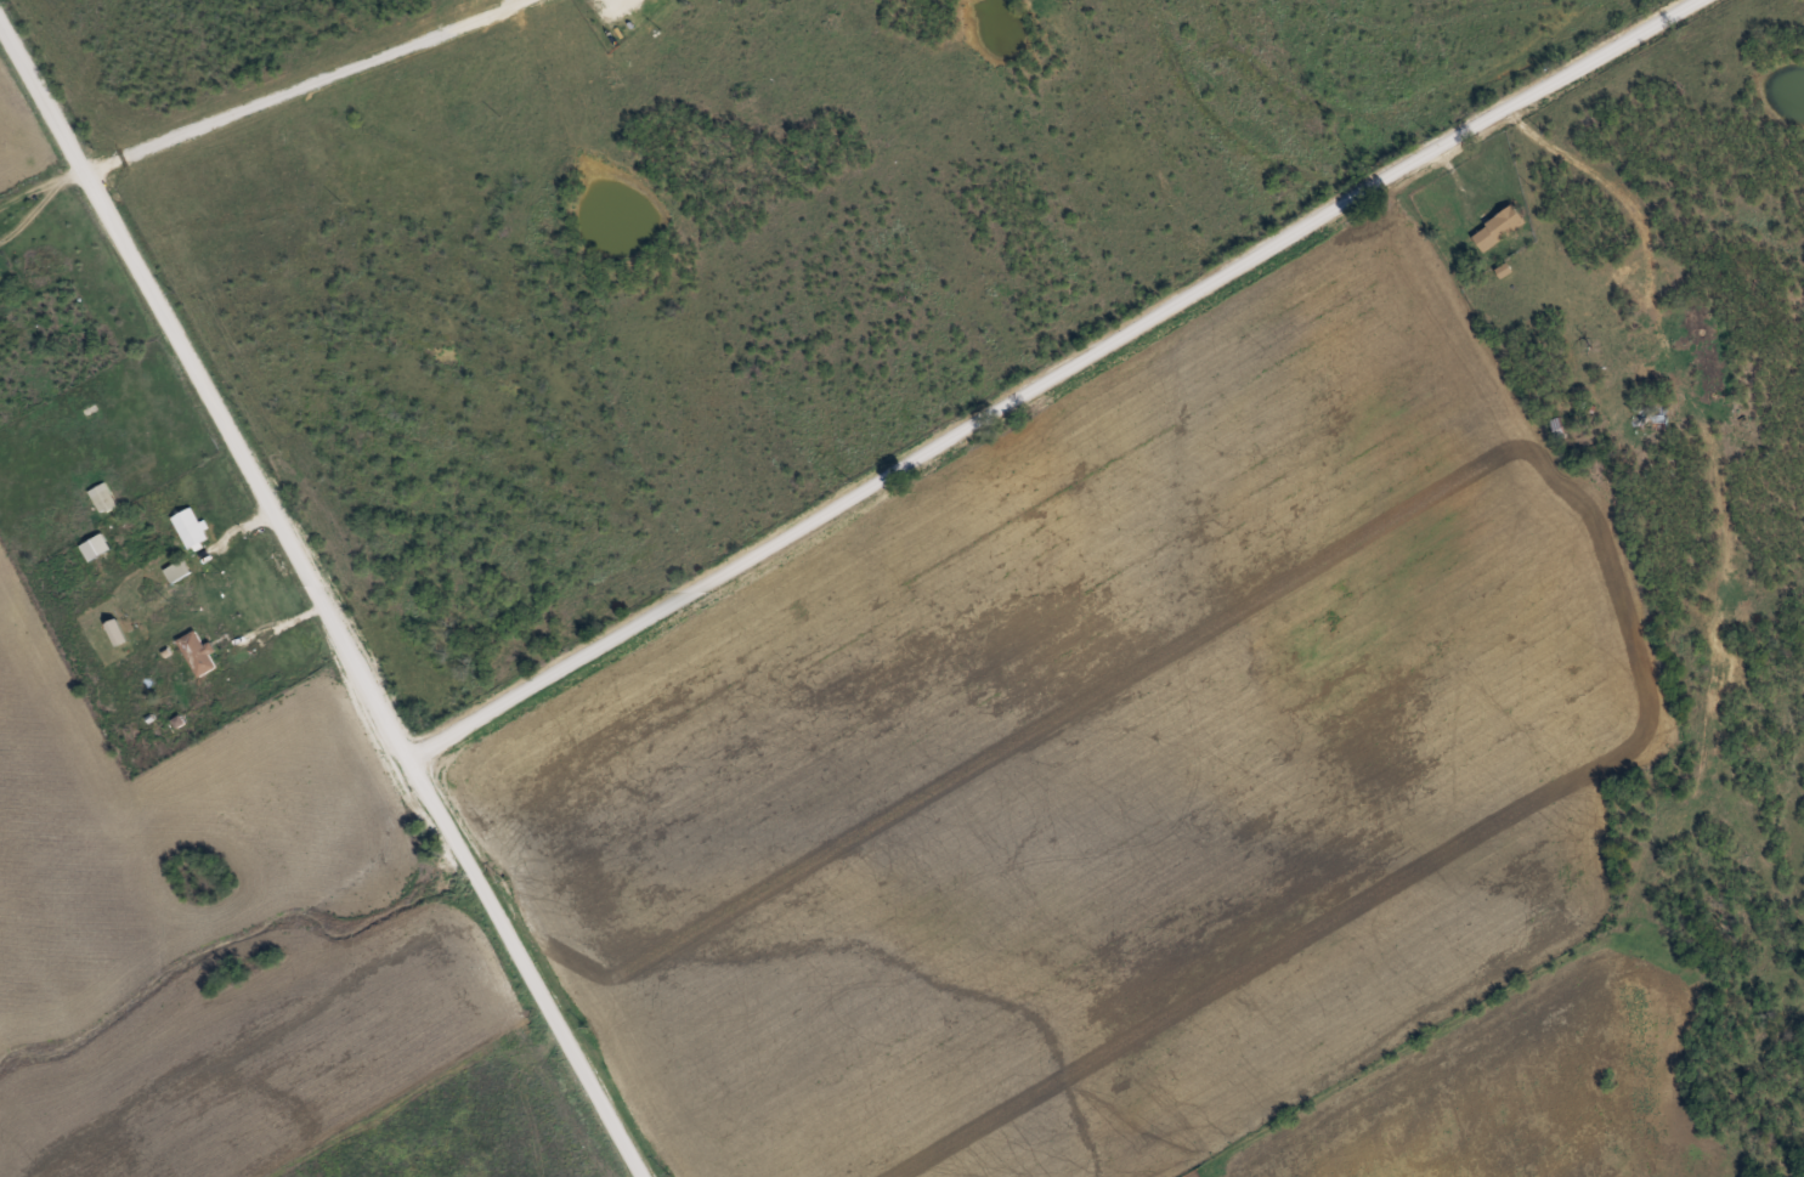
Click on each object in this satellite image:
road: (313, 57)
building: (1500, 226)
road: (1041, 372)
building: (66, 401)
building: (1653, 412)
building: (102, 497)
building: (192, 526)
building: (96, 545)
building: (176, 568)
road: (324, 593)
building: (198, 652)

